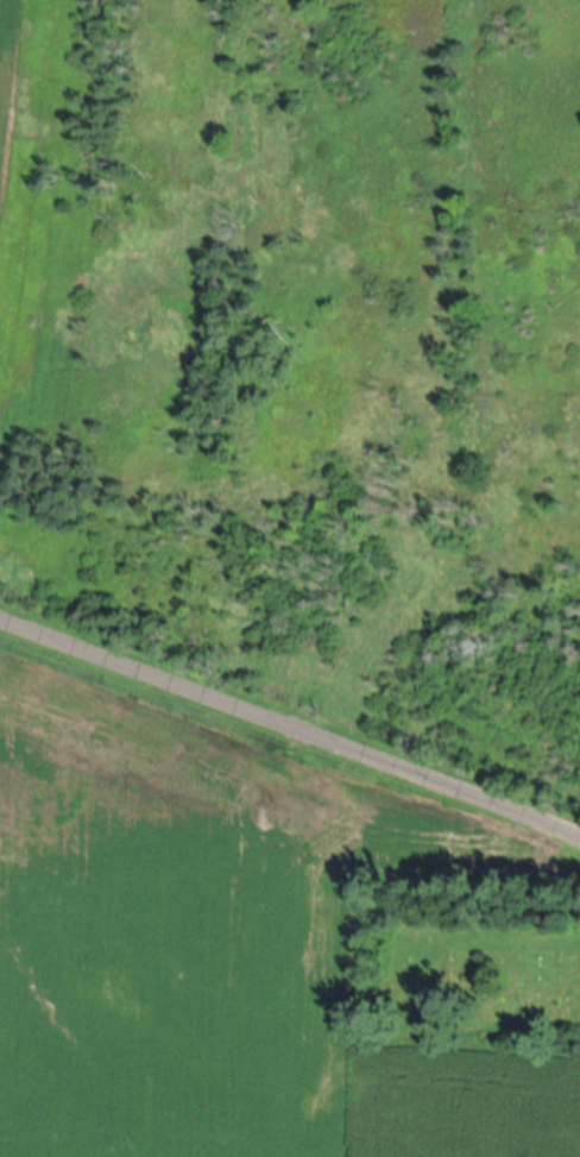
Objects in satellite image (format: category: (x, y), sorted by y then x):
road: (290, 732)

